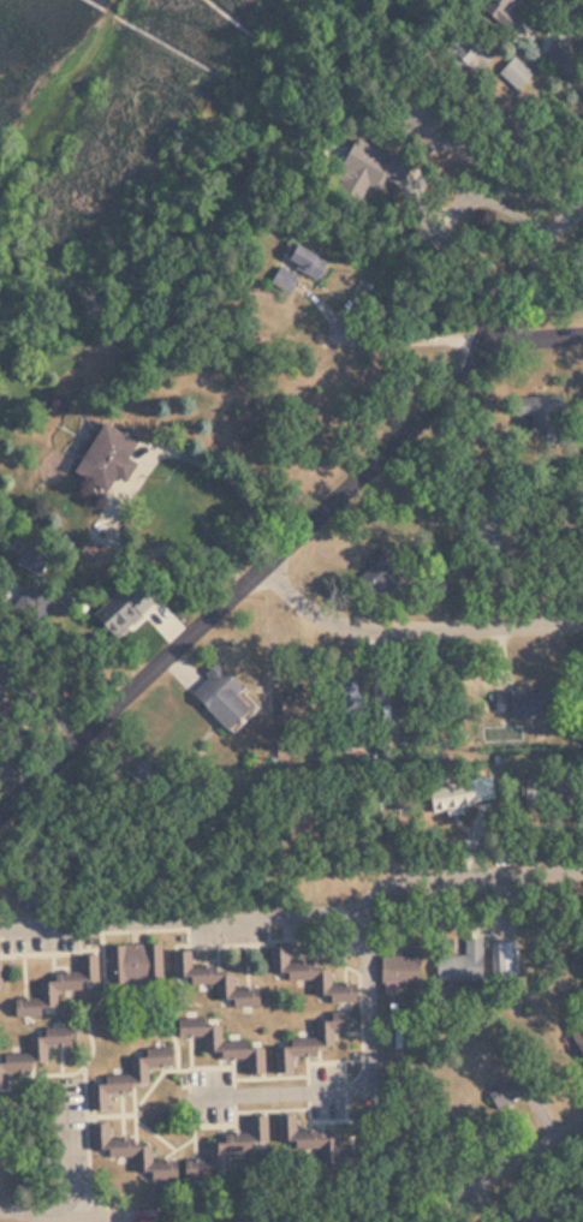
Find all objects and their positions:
building: (501, 10)
building: (463, 53)
building: (514, 72)
building: (420, 124)
building: (365, 163)
building: (582, 240)
building: (296, 266)
road: (555, 309)
road: (535, 338)
road: (315, 347)
building: (529, 407)
building: (103, 458)
building: (481, 533)
building: (376, 574)
road: (243, 578)
road: (415, 620)
building: (218, 696)
building: (522, 703)
building: (183, 731)
building: (447, 797)
road: (470, 875)
building: (59, 881)
road: (183, 917)
building: (506, 958)
building: (133, 962)
building: (460, 962)
building: (395, 967)
building: (308, 976)
building: (208, 978)
building: (55, 988)
building: (572, 1039)
building: (301, 1043)
building: (34, 1048)
building: (231, 1048)
building: (111, 1079)
road: (371, 1086)
building: (482, 1095)
building: (304, 1139)
building: (244, 1140)
building: (127, 1150)
road: (72, 1152)
road: (495, 1175)
road: (24, 1210)
road: (96, 1218)
building: (236, 1220)

